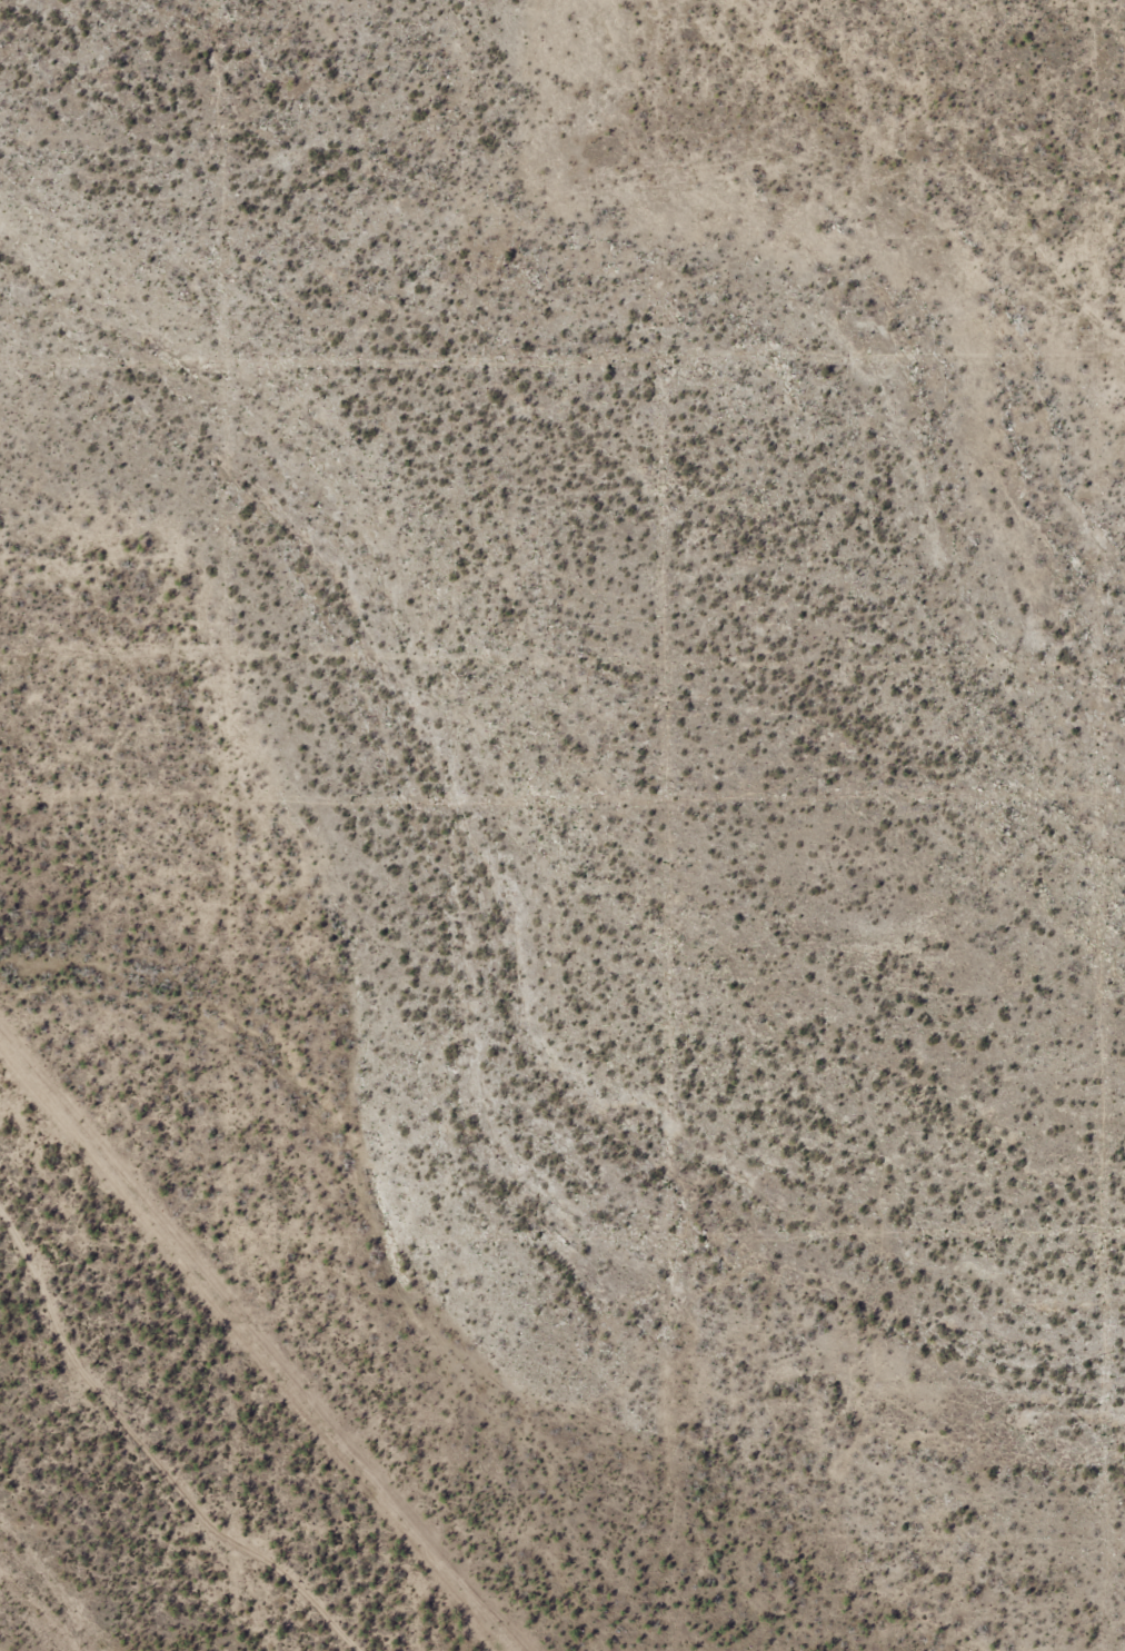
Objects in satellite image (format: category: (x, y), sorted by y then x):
road: (121, 1451)

